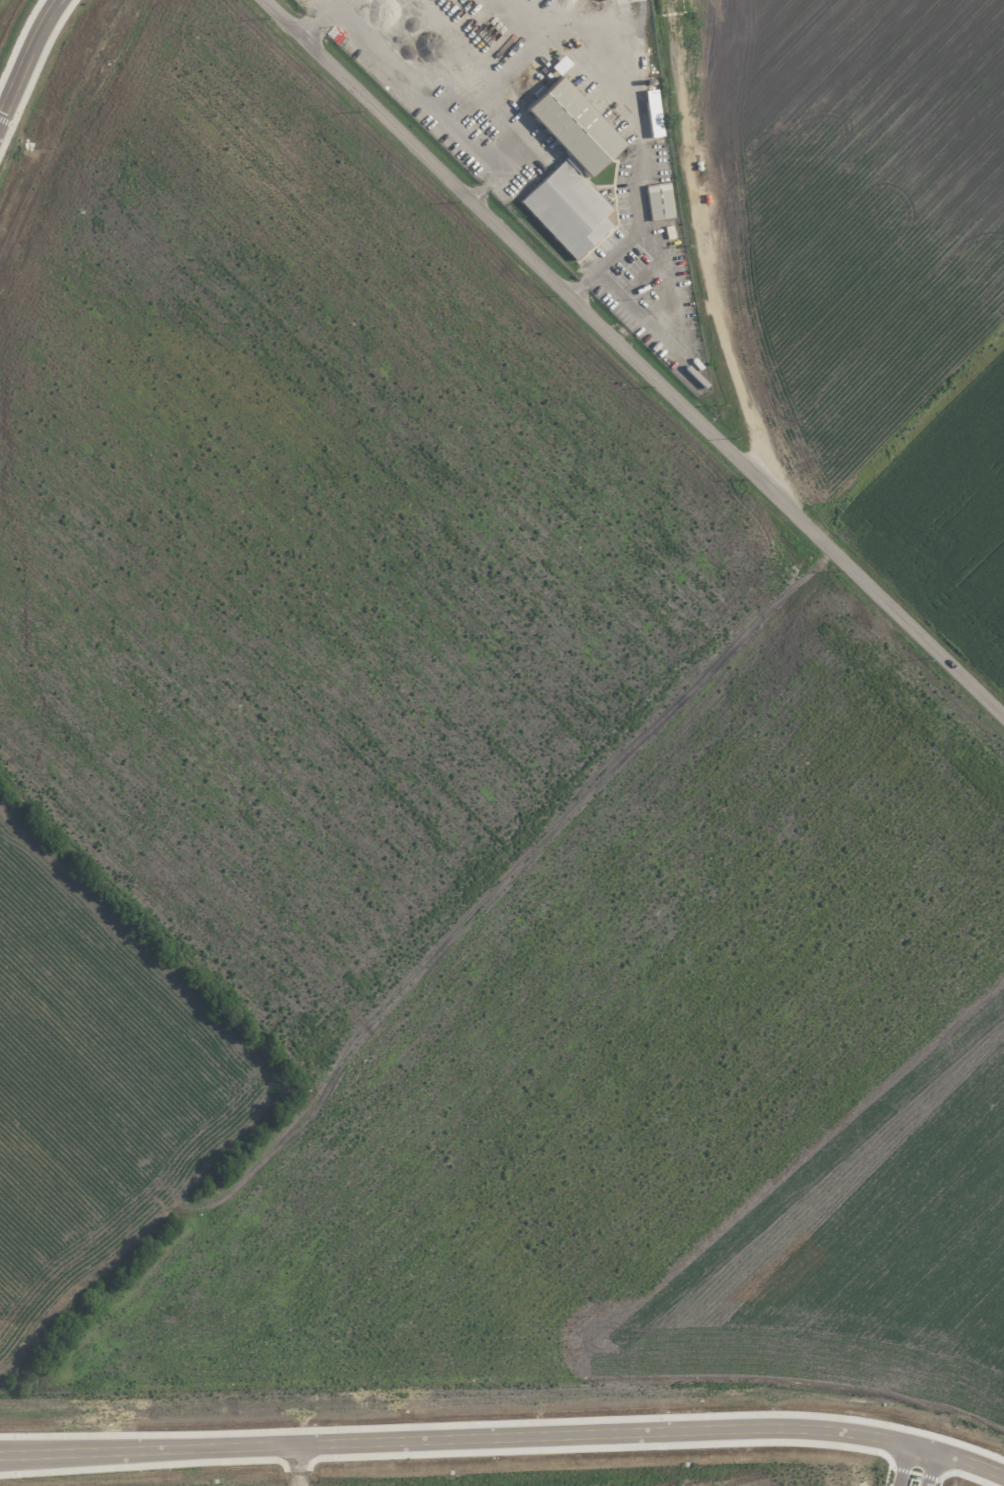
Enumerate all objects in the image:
road: (320, 18)
road: (26, 56)
building: (560, 65)
road: (433, 99)
building: (653, 113)
building: (573, 127)
road: (641, 131)
building: (660, 201)
building: (568, 210)
road: (549, 276)
road: (678, 333)
road: (919, 633)
building: (584, 822)
road: (504, 1437)
road: (901, 1466)
road: (933, 1470)

